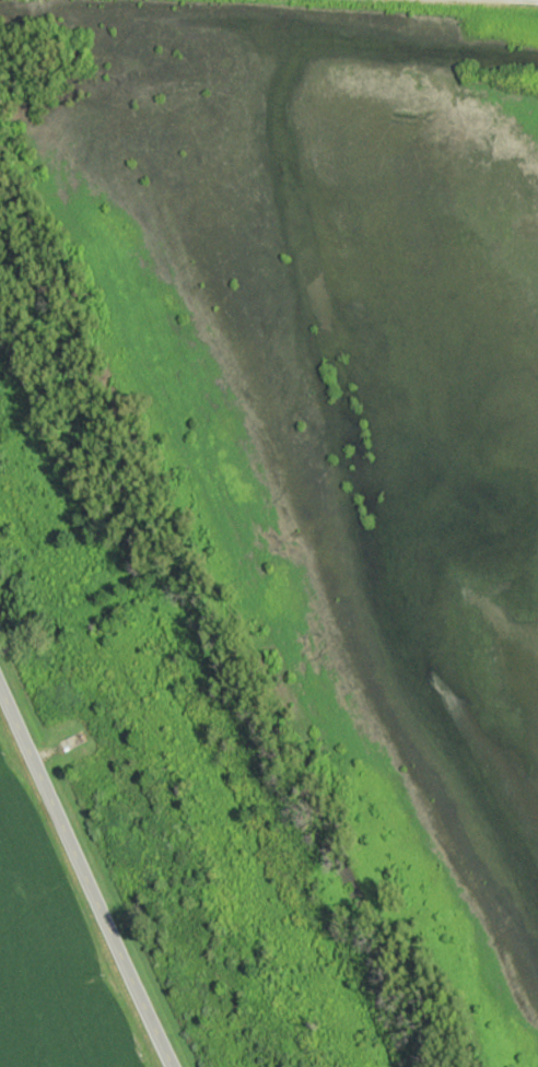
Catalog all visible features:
road: (86, 872)

